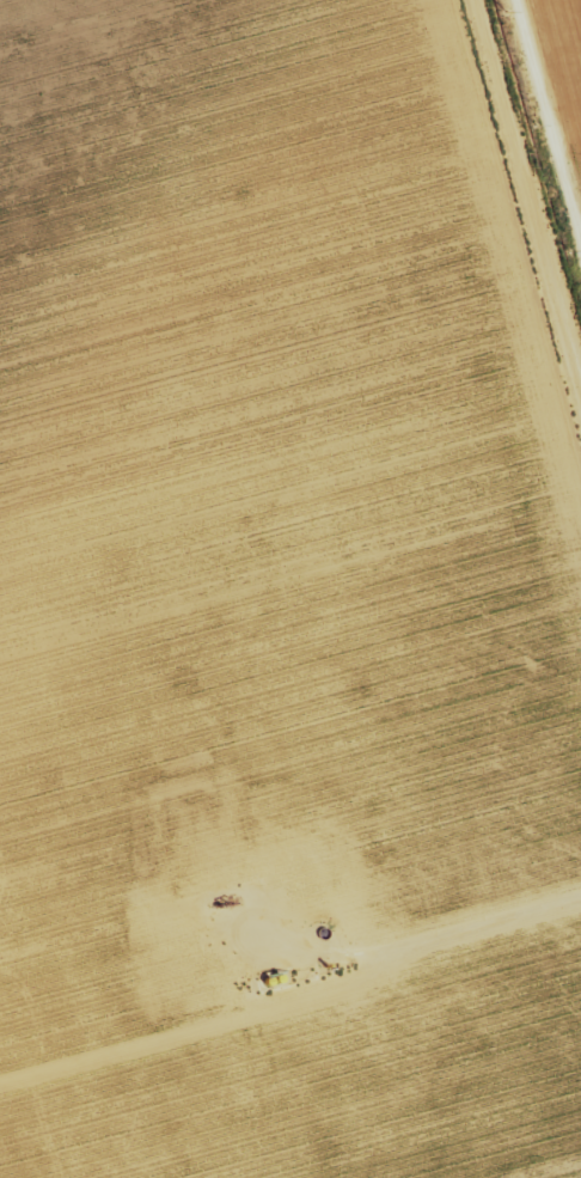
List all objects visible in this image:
road: (504, 242)

